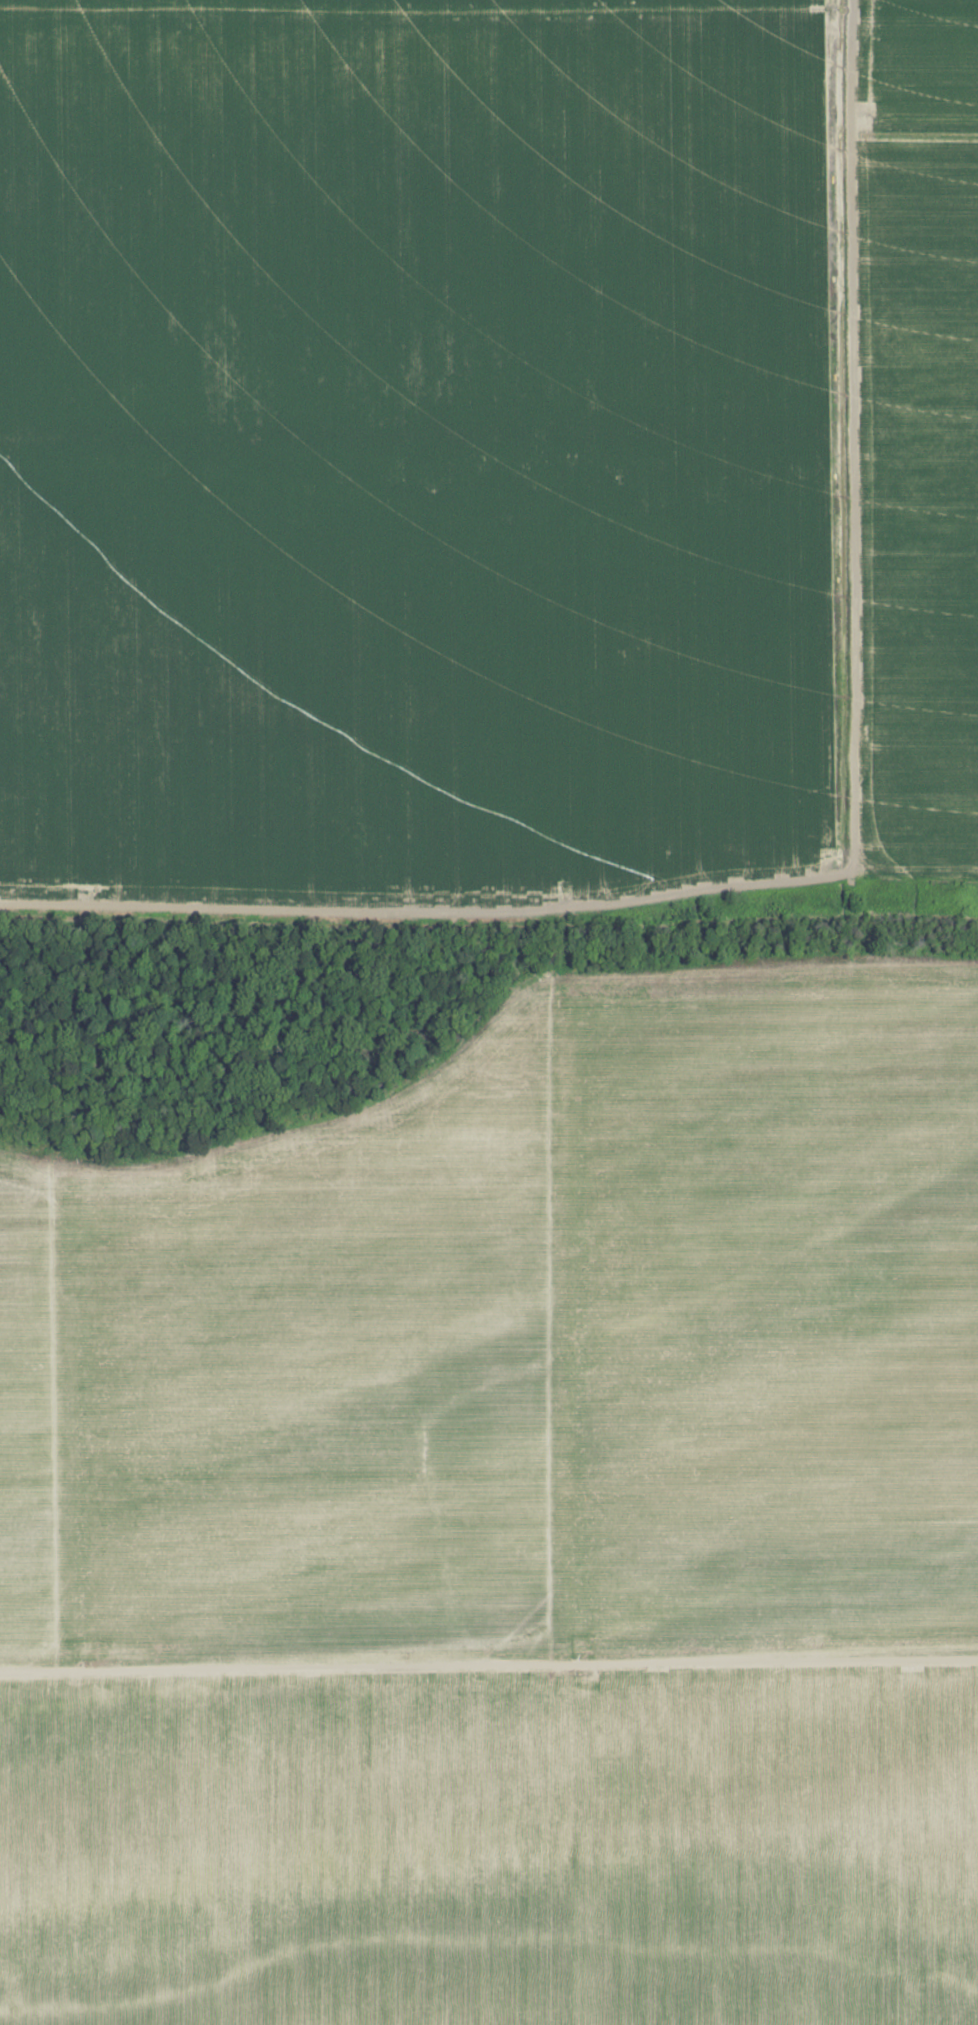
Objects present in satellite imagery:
road: (488, 1664)

